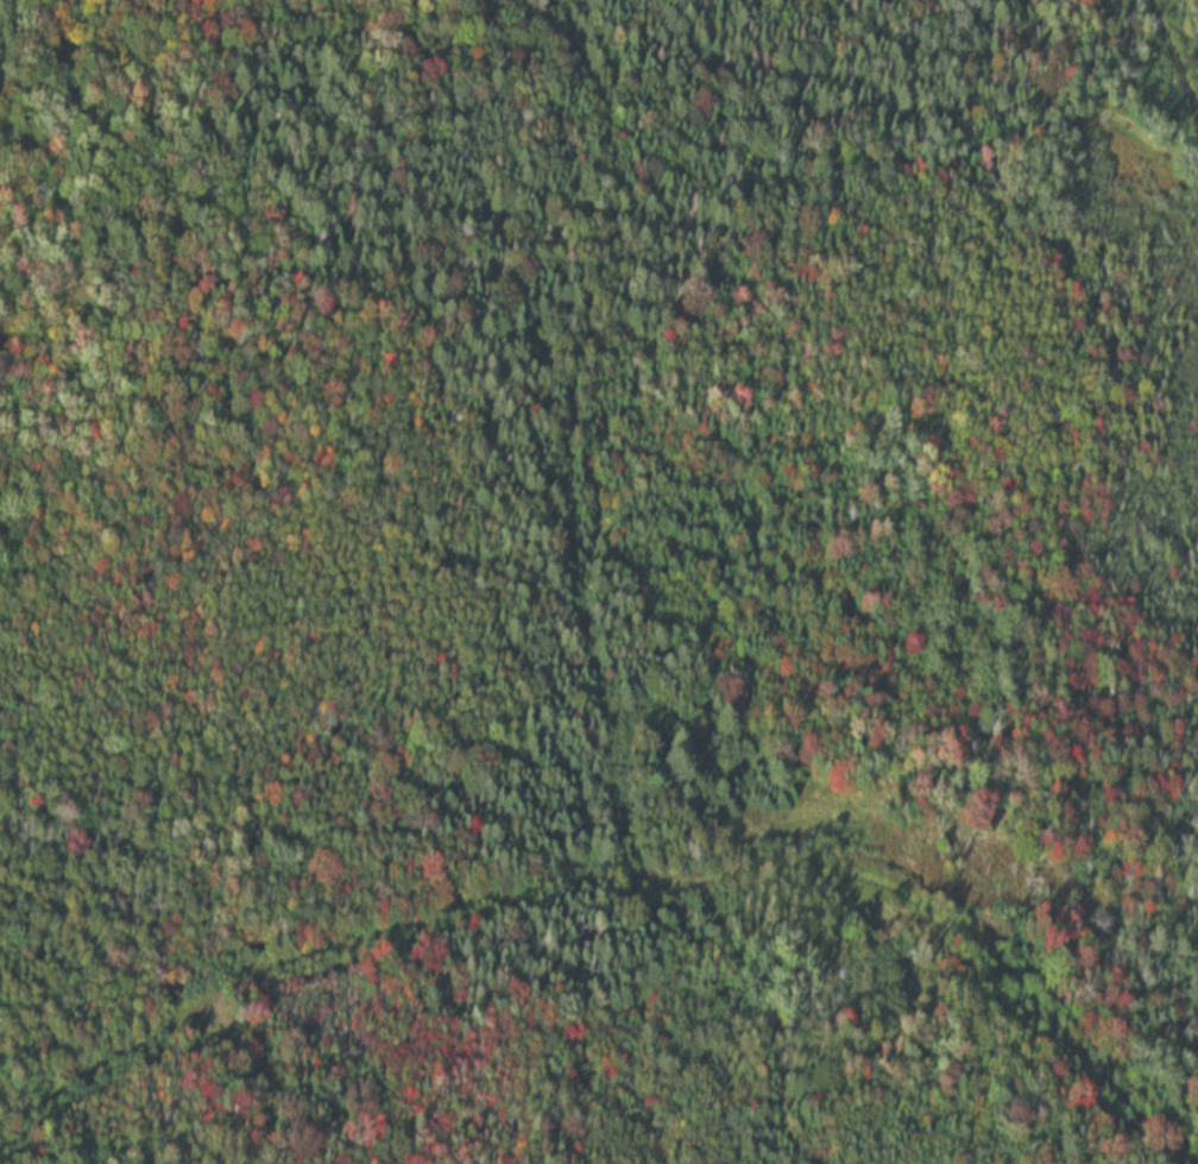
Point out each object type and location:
road: (1175, 54)

